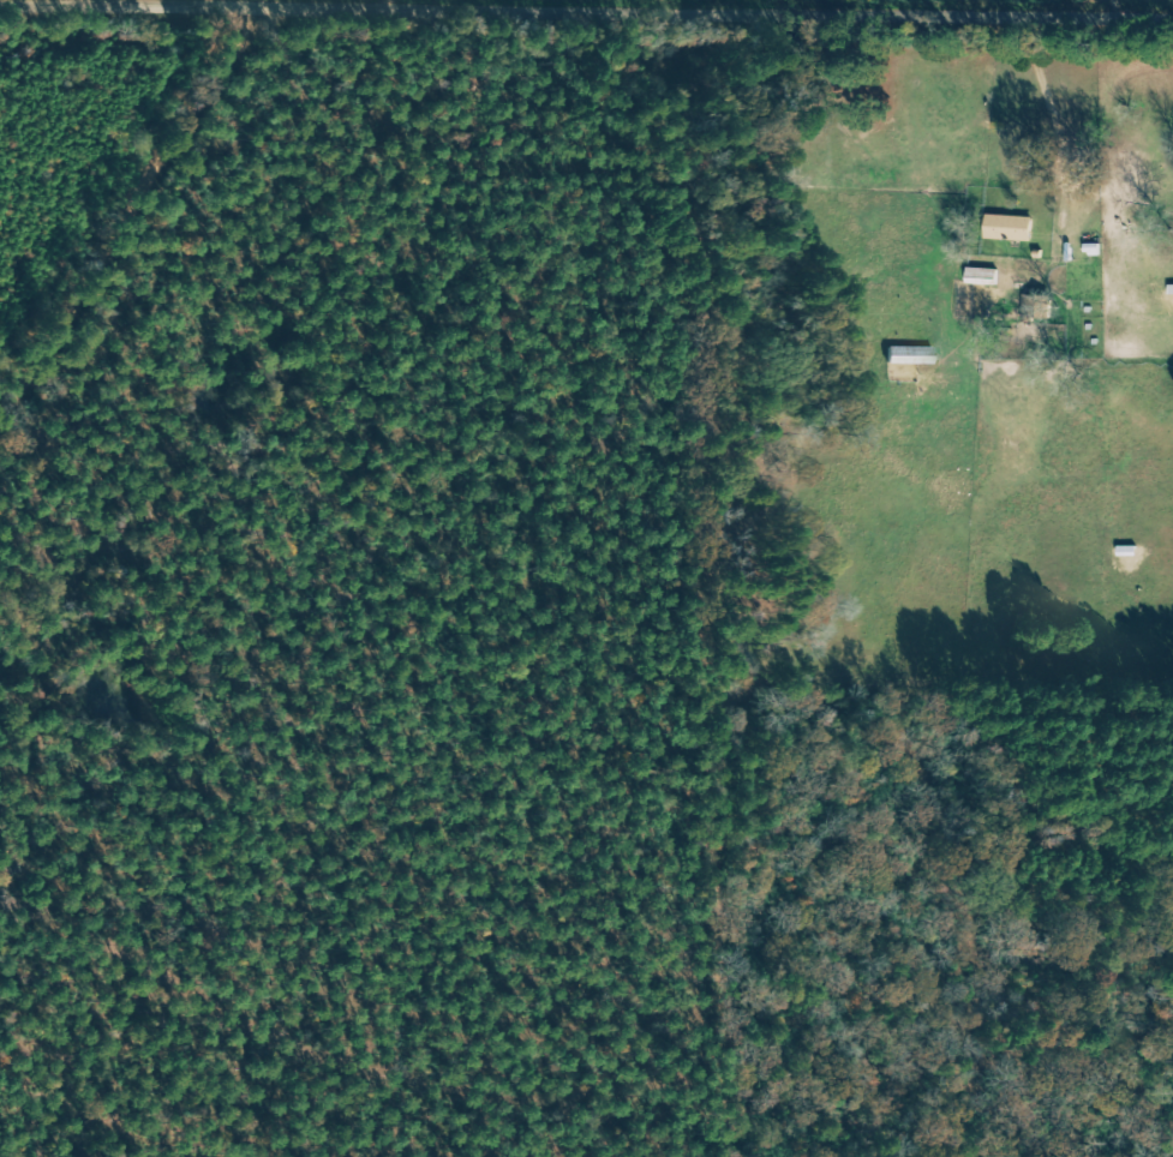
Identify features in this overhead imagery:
road: (389, 10)
road: (586, 13)
road: (1049, 106)
building: (1011, 228)
road: (133, 230)
building: (983, 276)
building: (1037, 307)
road: (130, 1012)

